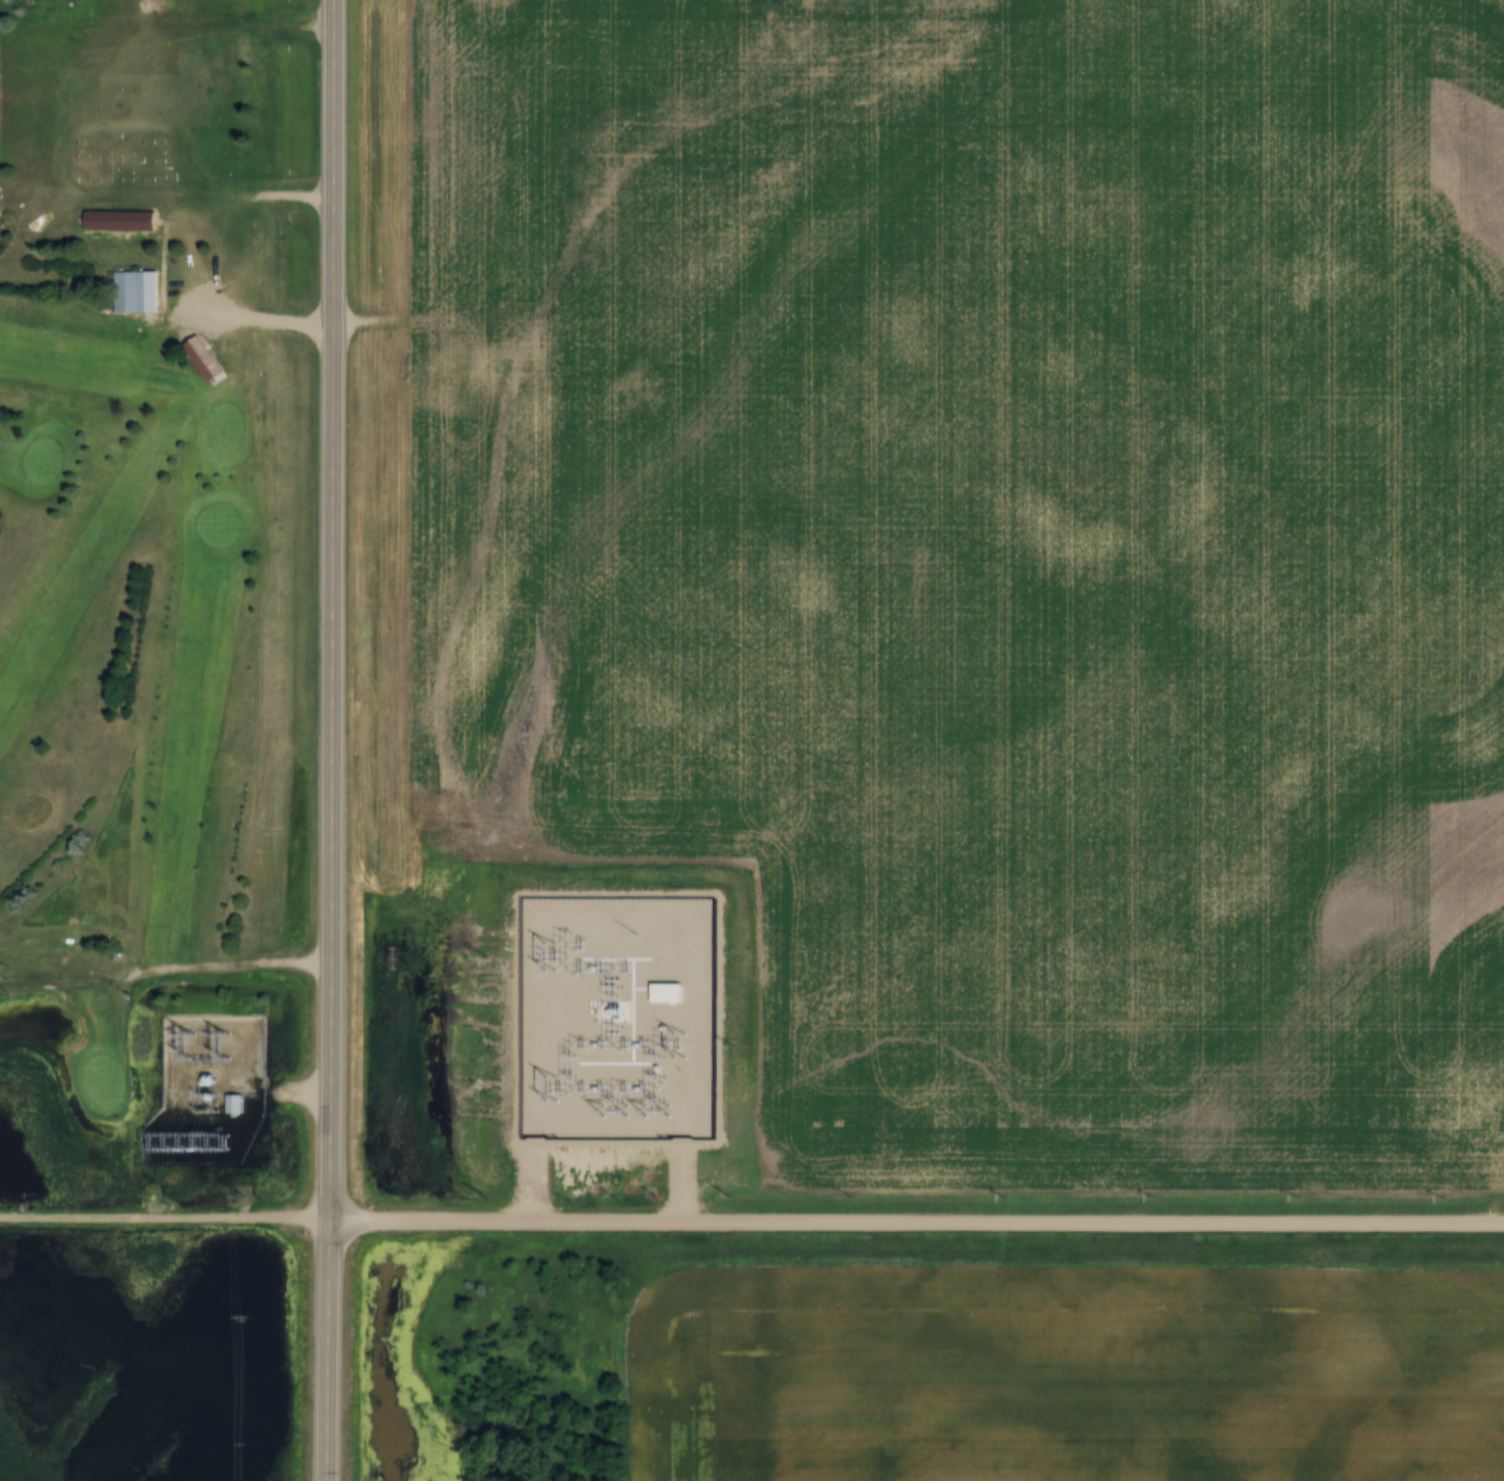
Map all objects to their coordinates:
building: (135, 293)
building: (202, 357)
road: (339, 740)
power substation: (208, 1089)
road: (752, 1226)

